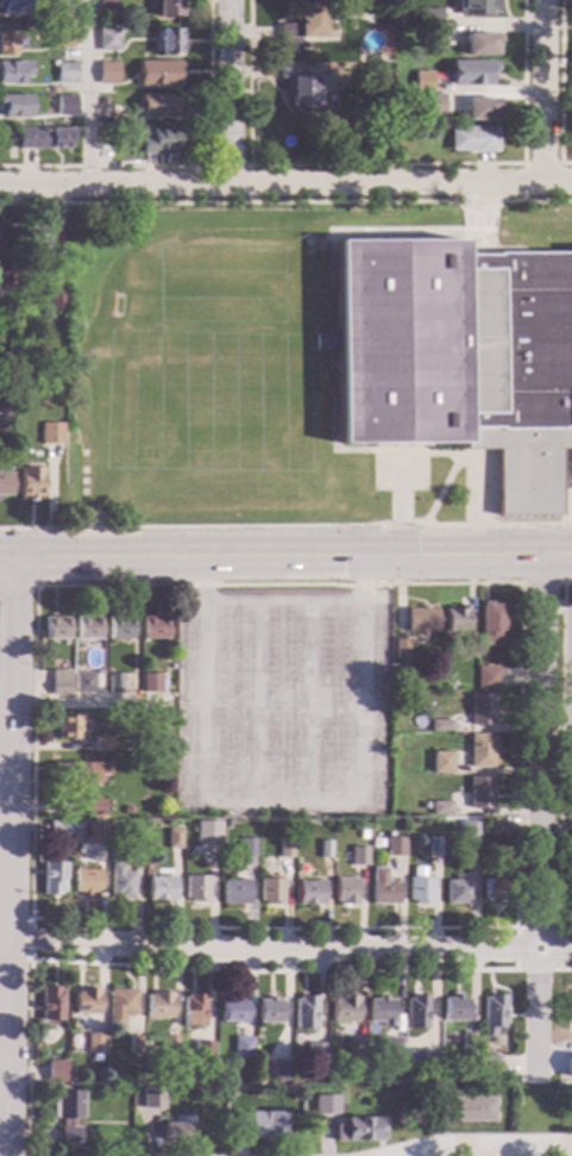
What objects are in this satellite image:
building: (64, 4)
building: (106, 6)
building: (14, 7)
building: (474, 7)
building: (168, 8)
building: (373, 10)
building: (429, 15)
building: (302, 26)
building: (63, 37)
building: (430, 37)
building: (107, 39)
building: (169, 42)
building: (8, 43)
building: (479, 44)
building: (65, 70)
building: (13, 71)
building: (157, 73)
building: (470, 73)
building: (106, 74)
building: (420, 81)
building: (302, 87)
road: (560, 87)
road: (543, 92)
road: (231, 93)
road: (86, 94)
building: (101, 101)
building: (65, 102)
building: (159, 105)
building: (432, 105)
building: (14, 106)
building: (383, 106)
building: (478, 108)
building: (383, 132)
building: (103, 135)
building: (43, 138)
building: (471, 139)
building: (159, 140)
road: (385, 164)
road: (523, 164)
road: (187, 165)
road: (247, 165)
road: (285, 186)
road: (285, 201)
road: (479, 208)
building: (33, 244)
building: (0, 260)
building: (6, 280)
building: (55, 299)
building: (323, 342)
building: (459, 357)
road: (332, 367)
building: (50, 433)
building: (31, 481)
building: (5, 483)
road: (566, 487)
road: (441, 489)
road: (401, 505)
road: (285, 526)
road: (382, 556)
road: (467, 560)
traffic signals: (417, 561)
traffic signals: (344, 562)
road: (182, 563)
road: (543, 585)
road: (18, 587)
road: (283, 602)
road: (558, 604)
building: (455, 619)
building: (421, 620)
building: (490, 624)
building: (55, 627)
building: (87, 627)
building: (153, 627)
building: (119, 629)
building: (400, 649)
building: (488, 677)
building: (59, 682)
building: (83, 682)
building: (114, 683)
building: (150, 683)
road: (93, 701)
road: (253, 702)
road: (309, 702)
parking lot: (279, 705)
road: (6, 708)
building: (482, 708)
road: (555, 714)
building: (441, 725)
building: (68, 727)
building: (101, 743)
building: (480, 750)
road: (561, 760)
building: (441, 762)
building: (77, 773)
building: (480, 792)
road: (284, 802)
building: (94, 807)
building: (441, 807)
building: (127, 811)
road: (539, 819)
building: (57, 827)
building: (497, 827)
building: (467, 830)
building: (206, 832)
building: (100, 835)
building: (137, 838)
building: (172, 838)
building: (394, 846)
building: (433, 846)
building: (246, 848)
building: (284, 848)
building: (322, 849)
building: (357, 856)
road: (12, 860)
building: (51, 877)
building: (84, 881)
building: (120, 882)
building: (196, 887)
building: (382, 887)
building: (419, 887)
building: (161, 888)
building: (495, 889)
building: (270, 891)
building: (345, 891)
building: (458, 891)
building: (235, 892)
building: (309, 892)
road: (37, 920)
road: (6, 925)
road: (31, 941)
road: (290, 951)
road: (175, 968)
road: (557, 970)
road: (564, 970)
building: (84, 1001)
building: (50, 1004)
building: (158, 1005)
building: (119, 1006)
building: (345, 1008)
building: (455, 1008)
road: (5, 1010)
building: (232, 1010)
building: (570, 1010)
building: (193, 1011)
building: (269, 1011)
building: (382, 1011)
building: (416, 1012)
building: (304, 1013)
building: (492, 1014)
building: (94, 1043)
building: (467, 1043)
building: (133, 1045)
building: (169, 1045)
building: (241, 1046)
building: (320, 1046)
building: (357, 1046)
building: (389, 1046)
building: (202, 1055)
building: (94, 1058)
building: (421, 1061)
building: (491, 1064)
building: (281, 1070)
building: (54, 1071)
building: (70, 1074)
building: (570, 1074)
building: (108, 1077)
building: (151, 1098)
building: (323, 1105)
building: (464, 1110)
building: (65, 1117)
building: (256, 1125)
building: (358, 1130)
building: (174, 1132)
road: (488, 1148)

